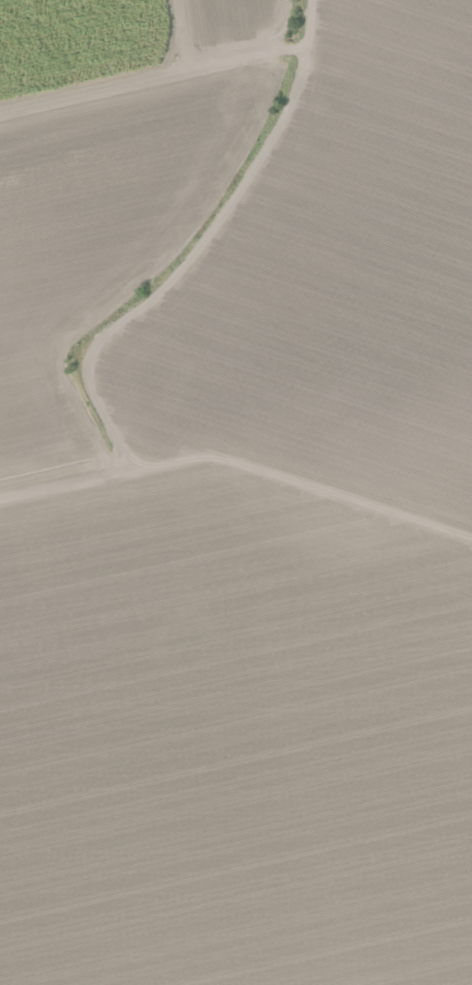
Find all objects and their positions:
road: (187, 32)
road: (152, 73)
road: (197, 249)
road: (238, 466)

